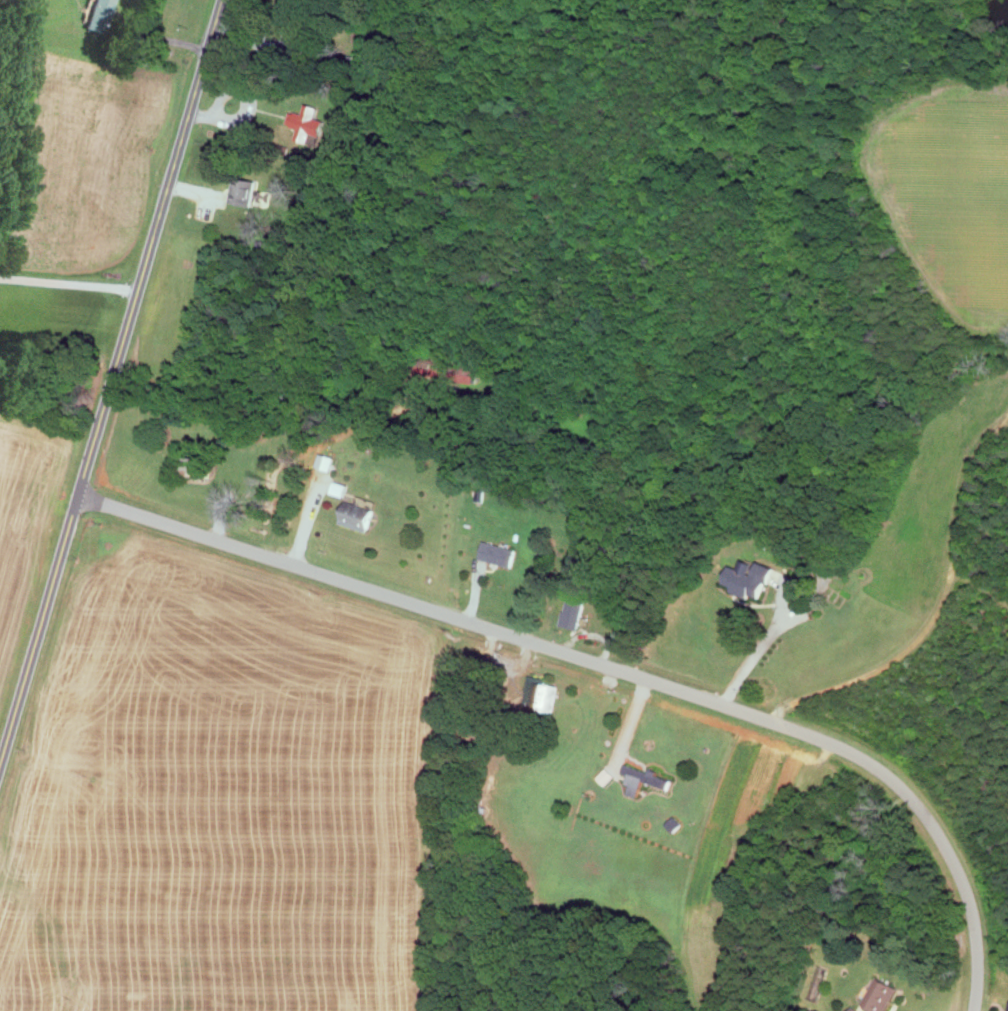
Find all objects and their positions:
building: (100, 14)
building: (307, 122)
building: (247, 190)
road: (151, 247)
road: (69, 283)
building: (339, 488)
building: (359, 519)
building: (499, 552)
building: (776, 576)
building: (750, 579)
building: (574, 611)
road: (39, 633)
road: (613, 668)
building: (645, 778)
building: (882, 994)

